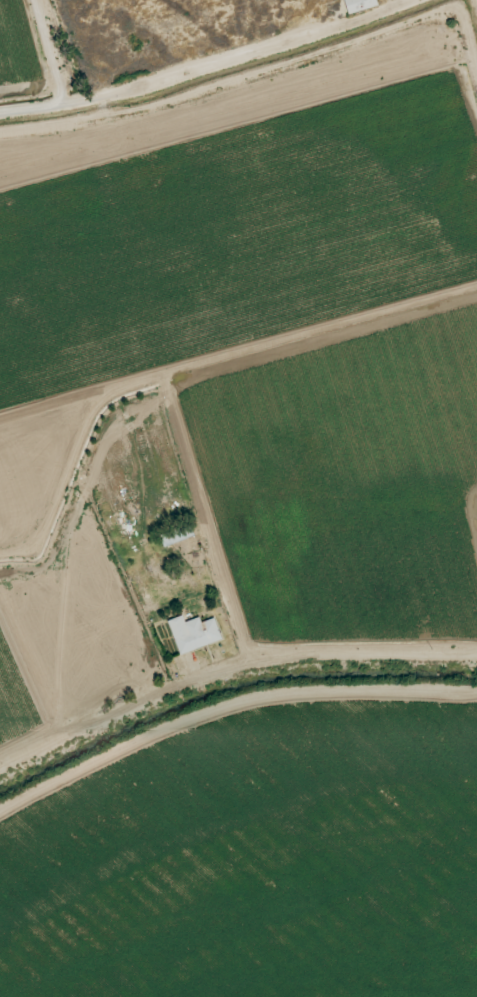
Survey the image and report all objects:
building: (359, 5)
road: (51, 56)
road: (218, 70)
building: (177, 535)
building: (193, 633)
road: (71, 731)

